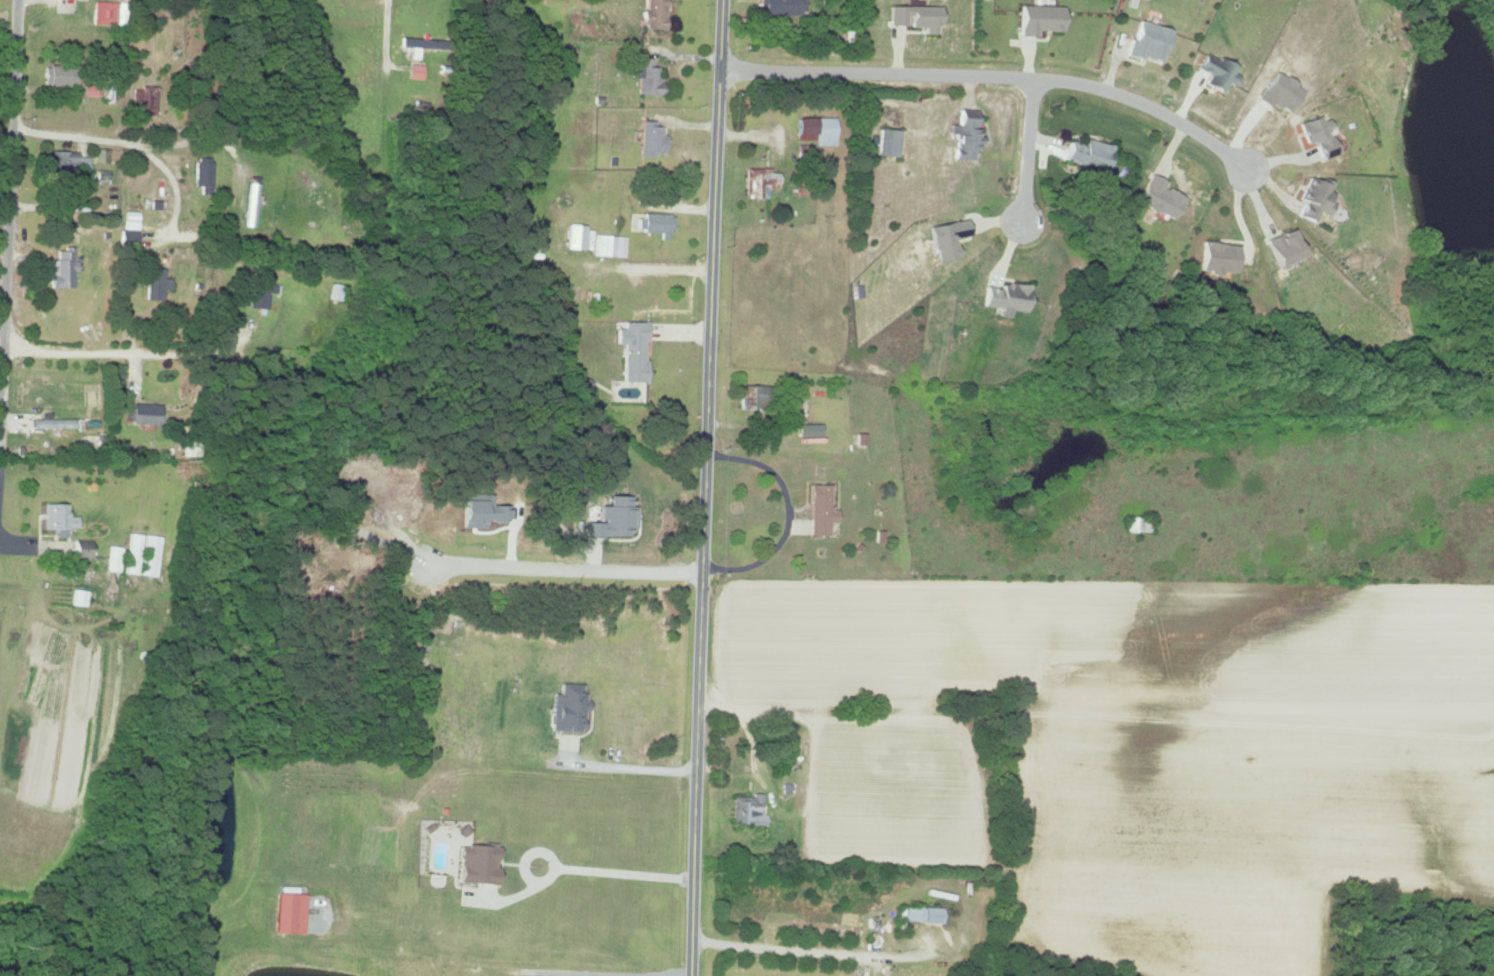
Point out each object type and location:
building: (779, 7)
building: (107, 13)
building: (654, 15)
building: (915, 18)
building: (1039, 20)
road: (385, 39)
building: (1149, 42)
building: (418, 45)
building: (416, 72)
building: (1217, 73)
road: (989, 74)
building: (55, 76)
building: (646, 78)
road: (47, 94)
building: (1281, 94)
building: (144, 101)
building: (816, 130)
building: (1319, 136)
building: (965, 139)
building: (651, 140)
building: (889, 143)
road: (1027, 149)
road: (123, 150)
building: (1089, 155)
building: (102, 156)
building: (102, 175)
road: (7, 176)
building: (203, 176)
building: (759, 182)
building: (1159, 198)
building: (1316, 200)
building: (656, 224)
building: (130, 227)
building: (574, 237)
building: (948, 239)
building: (607, 246)
building: (1284, 249)
building: (1218, 259)
road: (643, 265)
building: (156, 285)
building: (263, 290)
building: (1007, 299)
building: (632, 352)
road: (130, 361)
building: (752, 396)
building: (143, 413)
building: (51, 422)
building: (808, 429)
road: (701, 488)
building: (820, 509)
road: (787, 513)
building: (58, 518)
building: (609, 518)
building: (80, 548)
building: (134, 553)
building: (151, 555)
building: (115, 558)
road: (561, 569)
building: (79, 597)
building: (567, 708)
road: (1096, 723)
road: (628, 767)
building: (748, 809)
building: (477, 864)
road: (615, 873)
building: (288, 913)
building: (922, 914)
road: (807, 949)
road: (459, 965)

